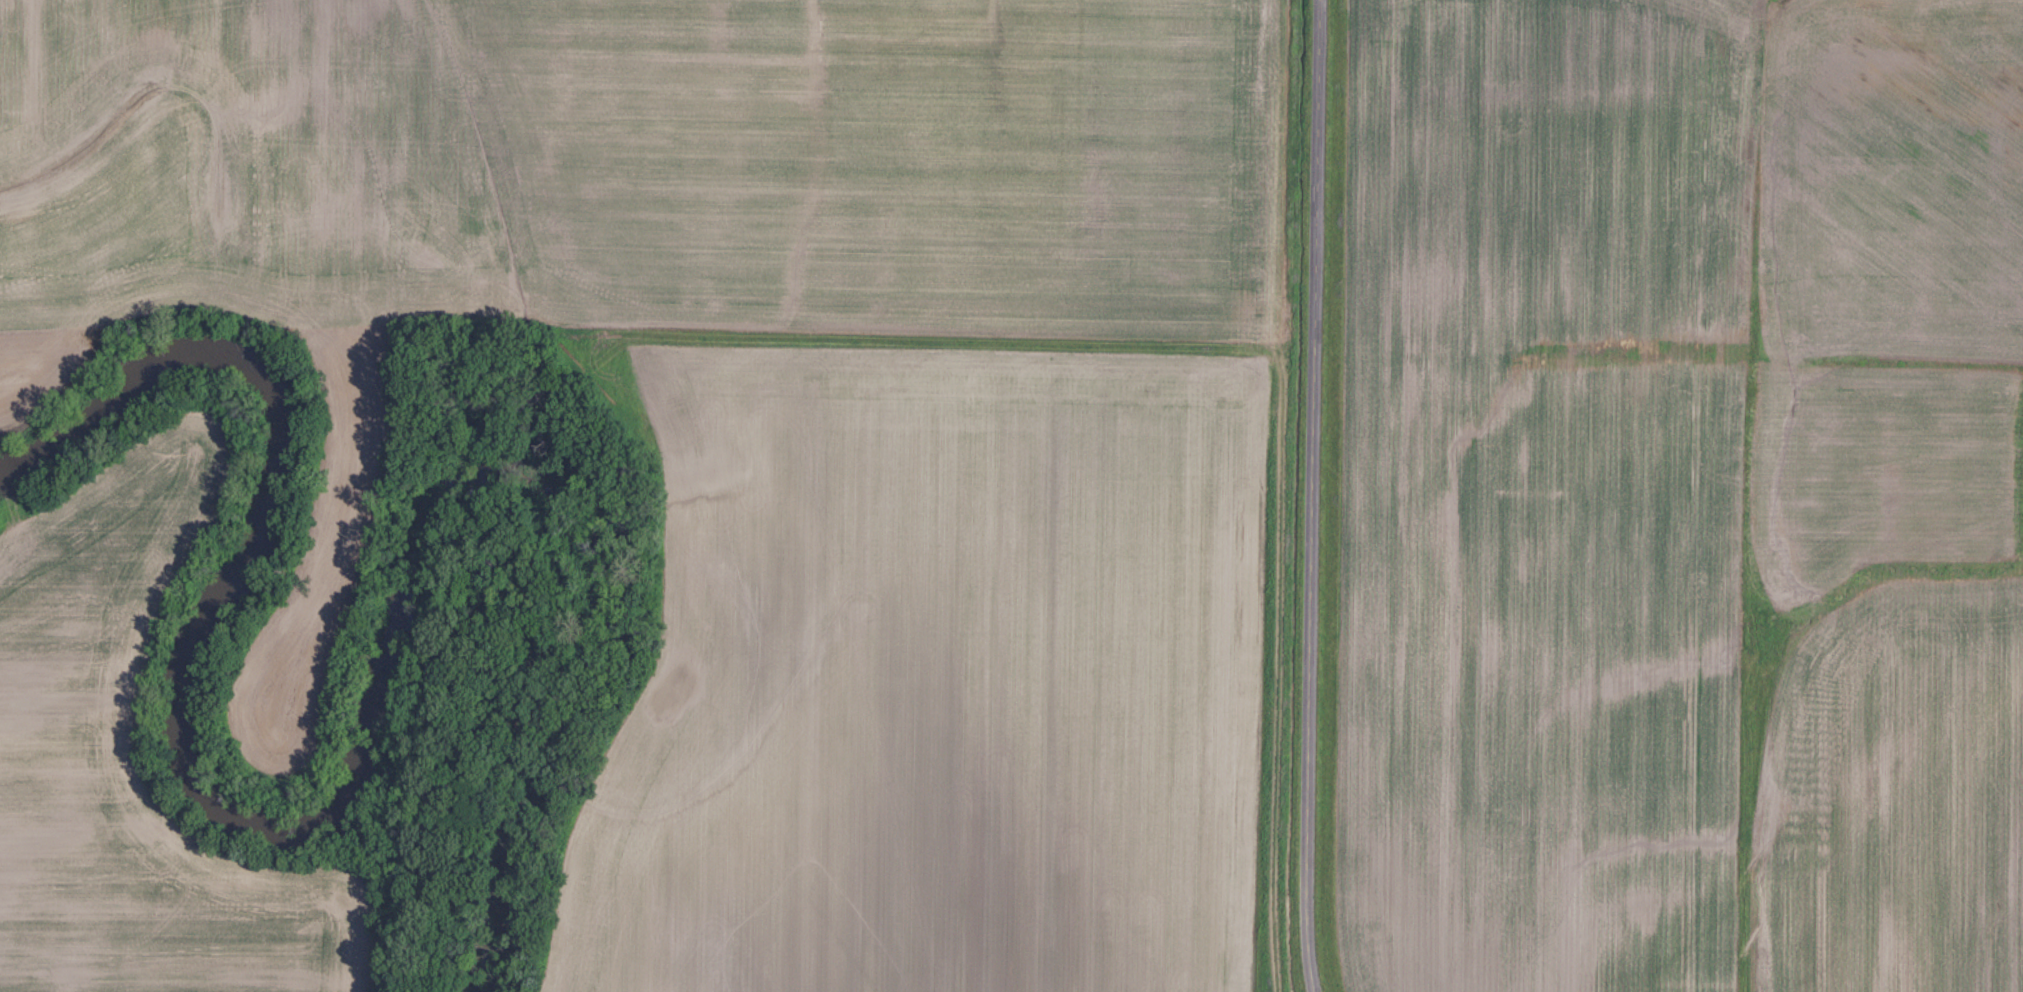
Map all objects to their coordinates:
road: (1314, 496)

